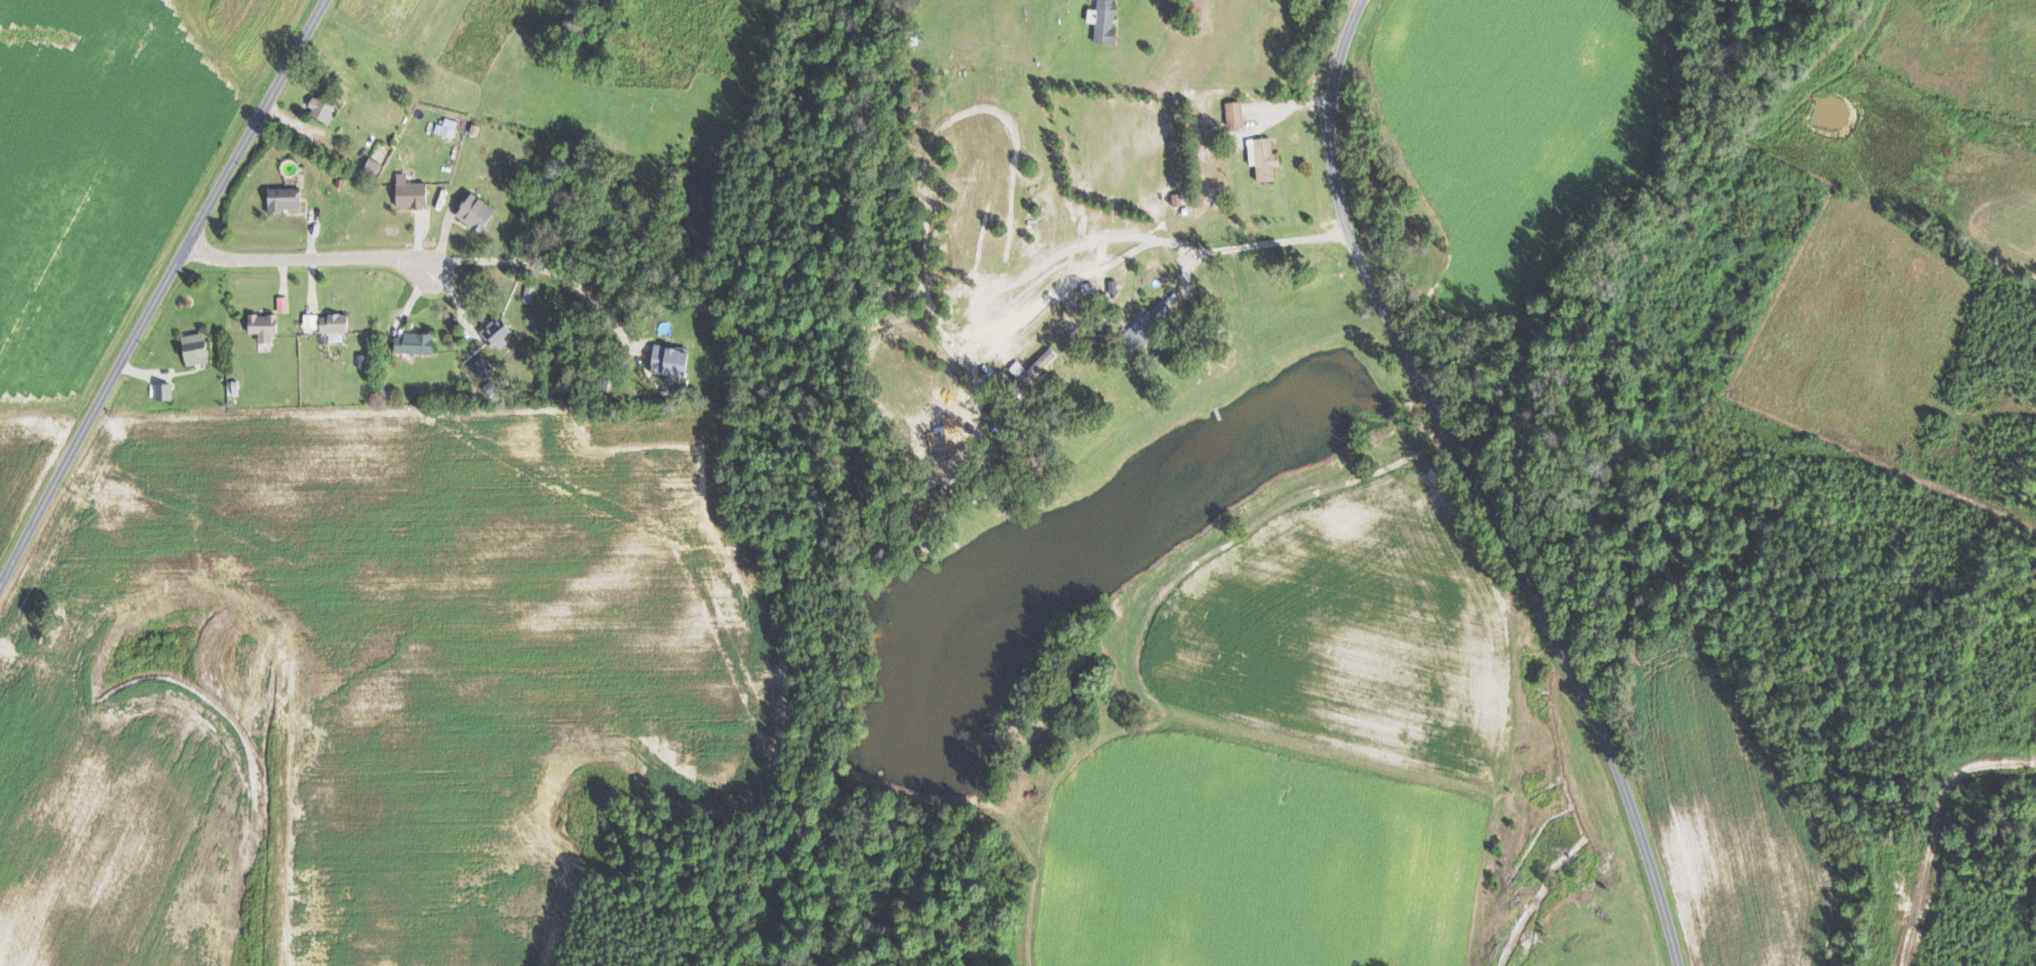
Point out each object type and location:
building: (1108, 21)
building: (325, 107)
building: (1237, 113)
building: (449, 128)
building: (1267, 158)
building: (375, 167)
building: (414, 193)
building: (287, 199)
building: (480, 213)
road: (1160, 238)
road: (301, 255)
road: (538, 265)
road: (160, 293)
building: (530, 294)
building: (285, 304)
building: (1158, 313)
building: (337, 323)
building: (266, 329)
building: (417, 344)
building: (198, 349)
building: (675, 362)
building: (1033, 370)
building: (166, 392)
road: (1474, 485)

